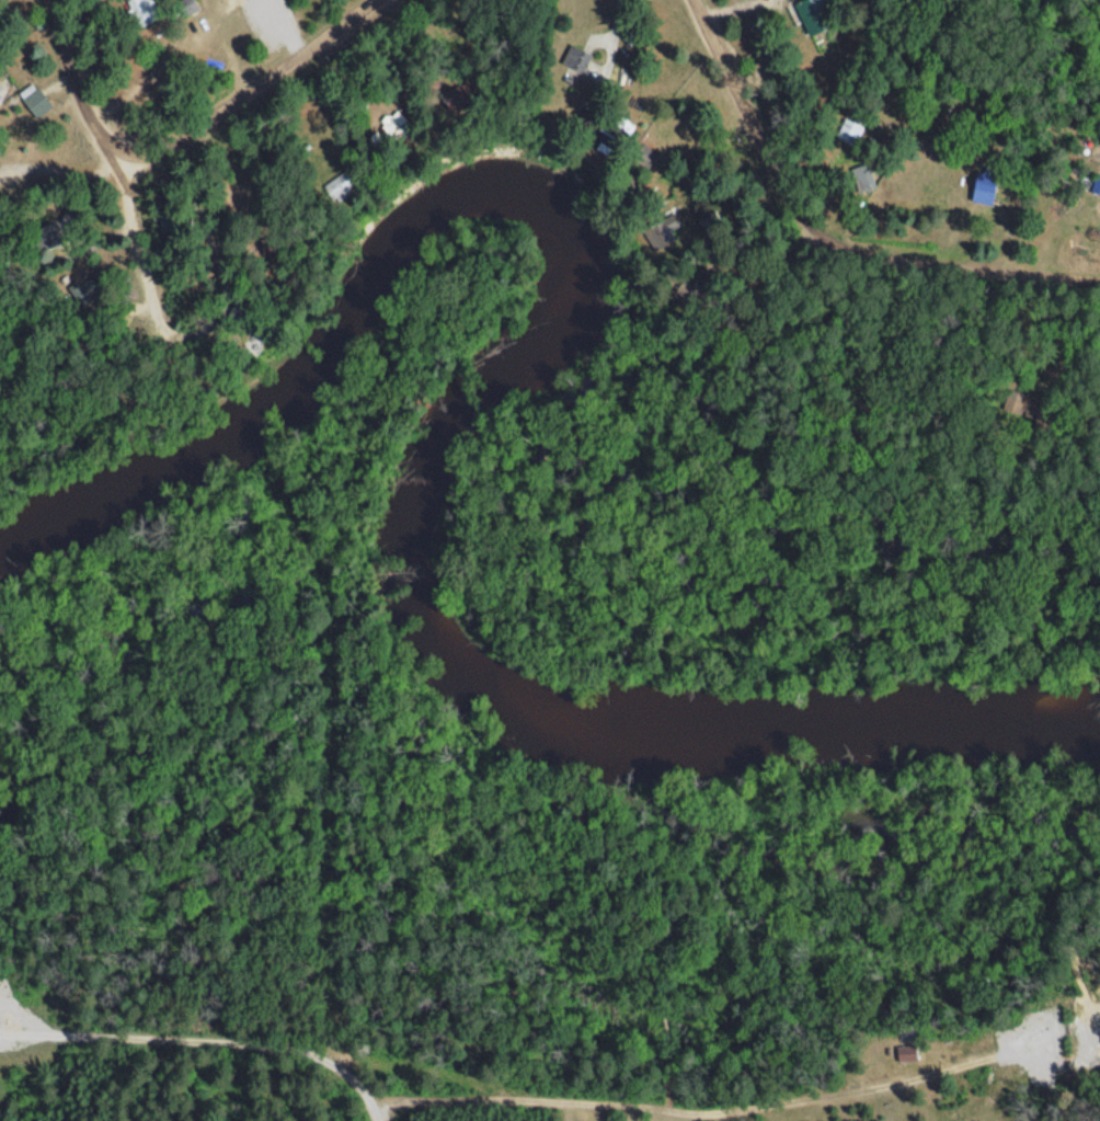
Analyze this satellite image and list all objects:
building: (146, 10)
building: (814, 14)
building: (574, 57)
building: (457, 94)
building: (33, 98)
road: (249, 98)
building: (848, 128)
road: (99, 148)
building: (861, 175)
building: (1097, 183)
building: (337, 185)
building: (982, 185)
building: (172, 222)
road: (827, 239)
river: (455, 426)
building: (905, 1052)
road: (196, 1056)
road: (738, 1110)

